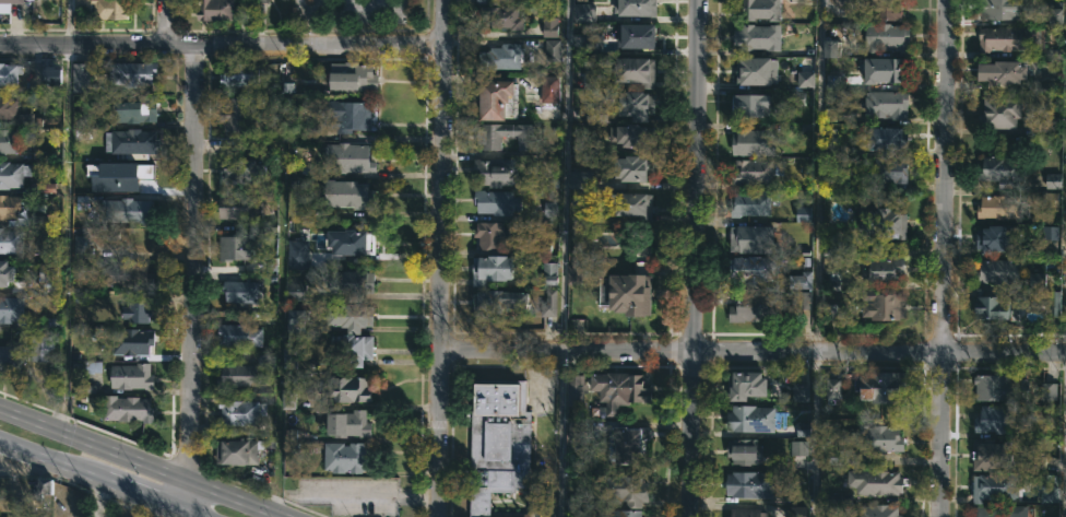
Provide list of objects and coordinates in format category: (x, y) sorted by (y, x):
building: (259, 0)
building: (482, 1)
building: (841, 2)
building: (7, 4)
building: (635, 8)
building: (98, 9)
building: (1002, 9)
building: (213, 10)
building: (759, 10)
building: (886, 10)
building: (582, 12)
building: (1056, 12)
building: (501, 19)
road: (64, 22)
road: (167, 23)
building: (636, 36)
building: (757, 37)
building: (887, 38)
building: (1009, 38)
building: (591, 42)
road: (220, 45)
building: (830, 49)
building: (500, 57)
building: (883, 69)
building: (756, 71)
building: (1002, 71)
building: (635, 72)
building: (79, 73)
building: (130, 73)
building: (8, 74)
building: (238, 74)
building: (55, 77)
building: (351, 77)
building: (591, 79)
building: (805, 79)
building: (833, 80)
building: (549, 89)
building: (580, 97)
building: (491, 98)
building: (886, 104)
building: (633, 105)
building: (750, 106)
building: (7, 107)
building: (134, 110)
building: (1000, 111)
building: (236, 114)
building: (348, 117)
building: (633, 137)
building: (487, 139)
building: (887, 139)
building: (8, 141)
building: (753, 142)
building: (129, 143)
building: (346, 157)
building: (628, 167)
building: (242, 169)
building: (755, 171)
building: (1000, 171)
building: (493, 172)
road: (564, 174)
building: (12, 175)
building: (883, 178)
building: (579, 180)
building: (346, 195)
building: (495, 202)
building: (753, 203)
building: (630, 204)
building: (8, 205)
building: (239, 207)
building: (998, 208)
building: (131, 211)
building: (881, 223)
building: (1050, 233)
building: (489, 235)
building: (996, 238)
road: (66, 239)
building: (750, 239)
building: (10, 242)
building: (346, 244)
building: (80, 247)
building: (234, 248)
building: (828, 249)
building: (294, 254)
road: (440, 258)
road: (694, 258)
road: (816, 258)
road: (946, 258)
building: (489, 270)
building: (751, 270)
building: (881, 270)
building: (997, 271)
building: (4, 273)
building: (126, 274)
building: (572, 274)
road: (193, 279)
building: (1035, 280)
building: (798, 281)
building: (348, 284)
building: (239, 293)
building: (296, 293)
building: (628, 293)
building: (498, 302)
building: (1054, 304)
building: (881, 305)
building: (754, 307)
building: (990, 307)
building: (10, 309)
building: (134, 310)
building: (348, 317)
building: (293, 320)
building: (237, 336)
building: (129, 343)
building: (39, 349)
building: (348, 351)
road: (753, 351)
building: (10, 356)
building: (129, 376)
building: (236, 376)
building: (744, 386)
building: (996, 387)
building: (618, 388)
building: (833, 388)
building: (883, 388)
building: (347, 390)
building: (575, 390)
building: (1049, 391)
building: (799, 392)
road: (1064, 408)
building: (125, 409)
building: (236, 413)
building: (749, 420)
building: (1000, 421)
building: (346, 424)
building: (579, 431)
road: (558, 433)
building: (497, 442)
building: (625, 444)
building: (867, 445)
building: (761, 450)
building: (236, 453)
building: (990, 455)
building: (344, 458)
road: (137, 466)
road: (96, 480)
building: (874, 482)
building: (749, 484)
building: (994, 487)
building: (623, 491)
building: (1049, 494)
building: (829, 508)
building: (798, 512)
building: (878, 512)
building: (1000, 512)
building: (745, 513)
building: (618, 514)
building: (514, 515)

